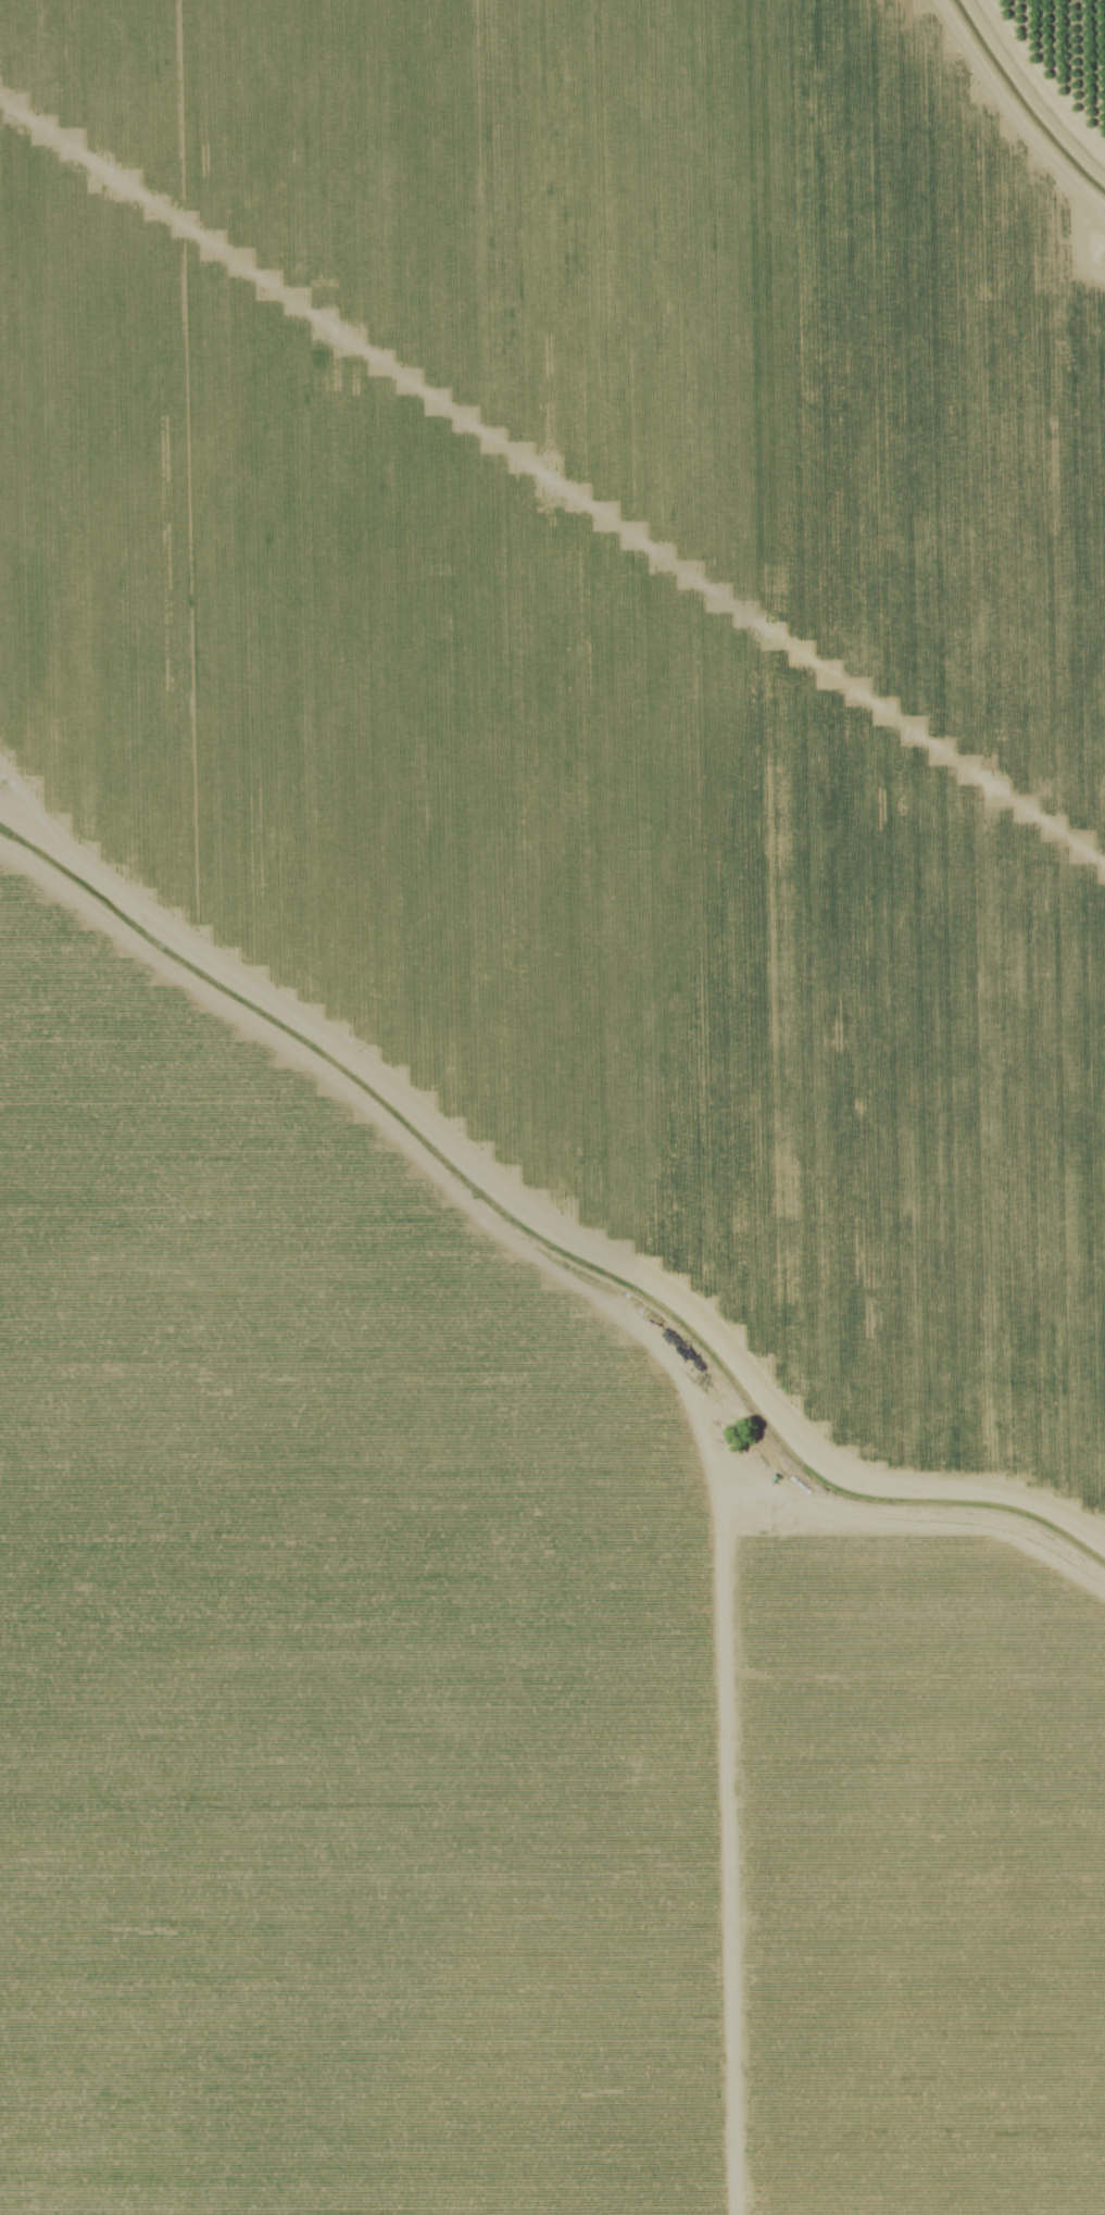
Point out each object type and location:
crop: (1063, 65)
crop: (600, 642)
crop: (477, 1729)

